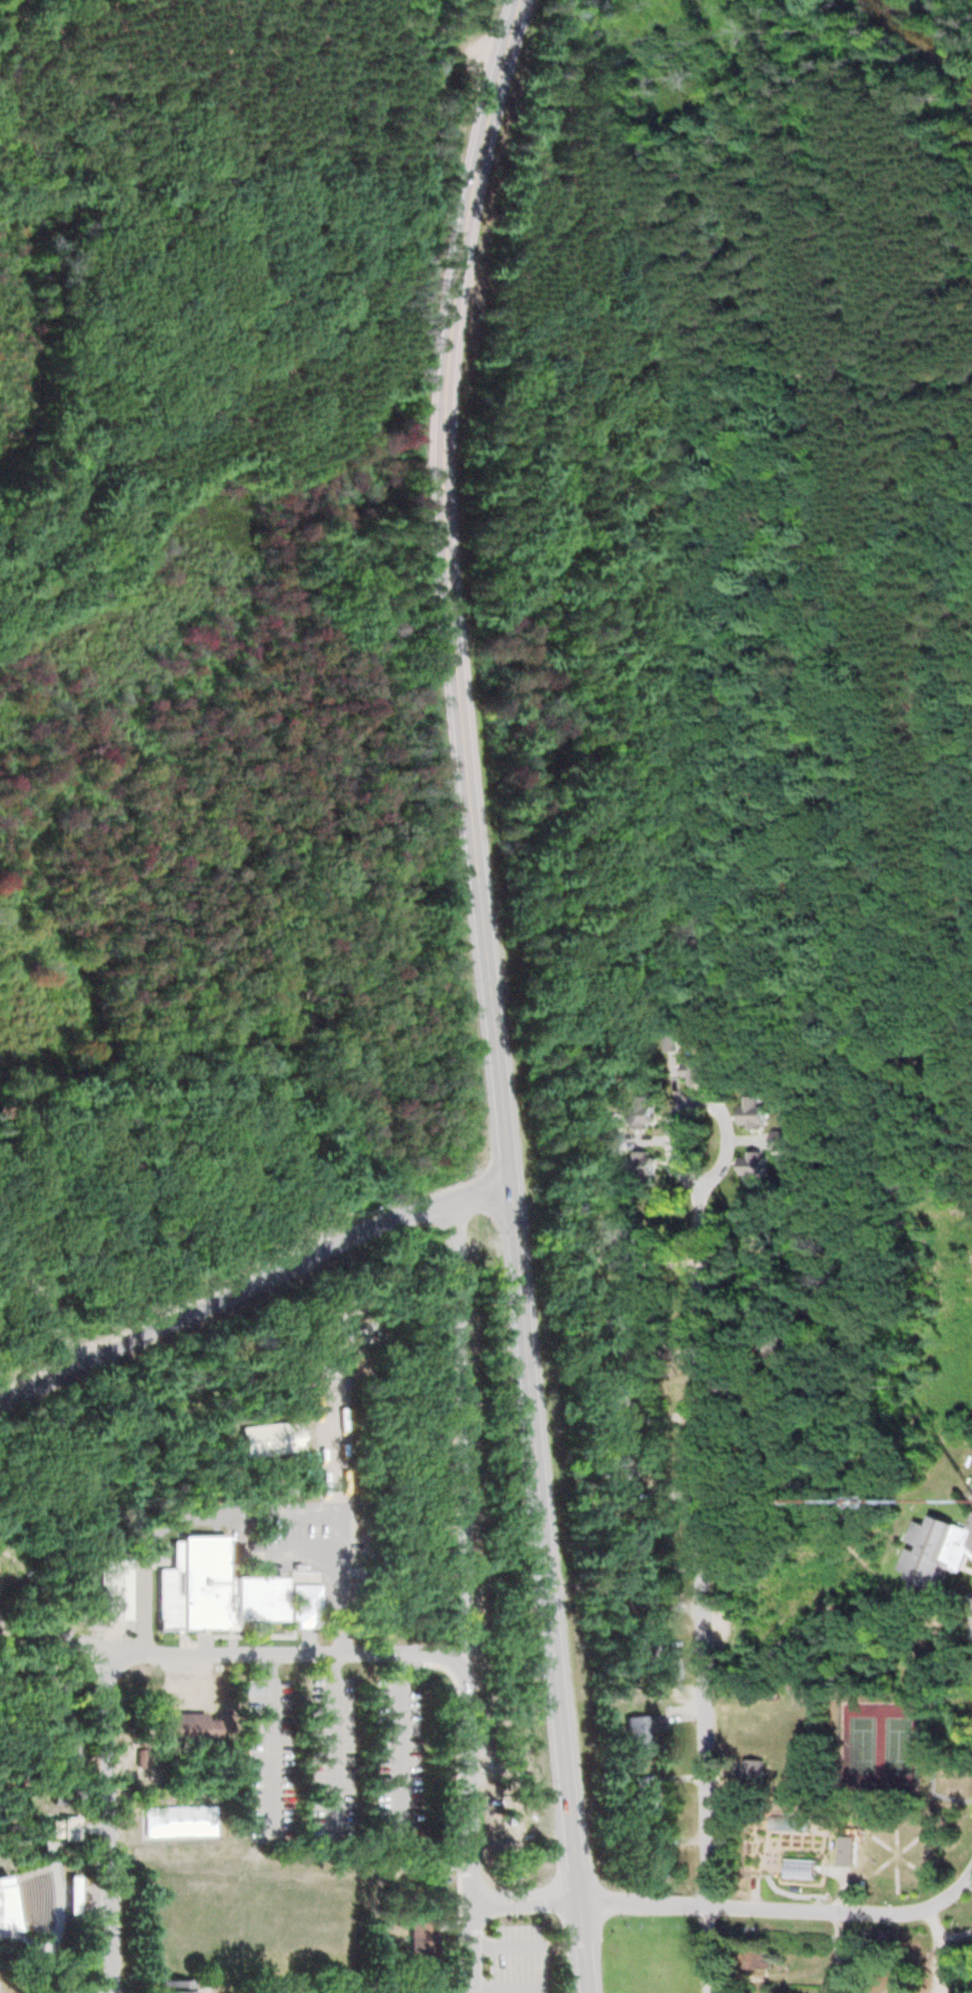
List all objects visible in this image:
road: (746, 162)
road: (624, 382)
road: (612, 751)
road: (492, 994)
building: (695, 1070)
building: (637, 1113)
building: (749, 1113)
building: (610, 1140)
building: (637, 1167)
building: (750, 1168)
building: (613, 1245)
road: (252, 1287)
road: (47, 1314)
building: (763, 1326)
building: (609, 1340)
building: (767, 1405)
building: (613, 1406)
road: (696, 1433)
building: (264, 1439)
building: (619, 1478)
road: (247, 1511)
parking lot: (308, 1523)
building: (931, 1550)
building: (628, 1558)
building: (115, 1585)
building: (210, 1586)
road: (35, 1635)
building: (646, 1647)
road: (264, 1650)
building: (671, 1670)
building: (58, 1682)
road: (401, 1729)
building: (183, 1730)
building: (641, 1735)
road: (327, 1737)
road: (263, 1739)
park: (861, 1743)
park: (896, 1744)
parking lot: (260, 1753)
building: (71, 1756)
parking lot: (331, 1757)
parking lot: (400, 1761)
building: (749, 1773)
road: (930, 1787)
building: (64, 1796)
building: (643, 1799)
road: (456, 1803)
building: (788, 1817)
building: (180, 1818)
road: (109, 1821)
road: (467, 1822)
building: (60, 1829)
building: (800, 1867)
road: (521, 1884)
road: (842, 1884)
road: (950, 1891)
building: (69, 1895)
road: (521, 1898)
road: (727, 1909)
building: (4, 1910)
road: (903, 1911)
building: (419, 1939)
road: (938, 1948)
road: (929, 1949)
road: (707, 1951)
parking lot: (516, 1957)
road: (518, 1961)
building: (755, 1962)
building: (173, 1986)
building: (423, 1992)

